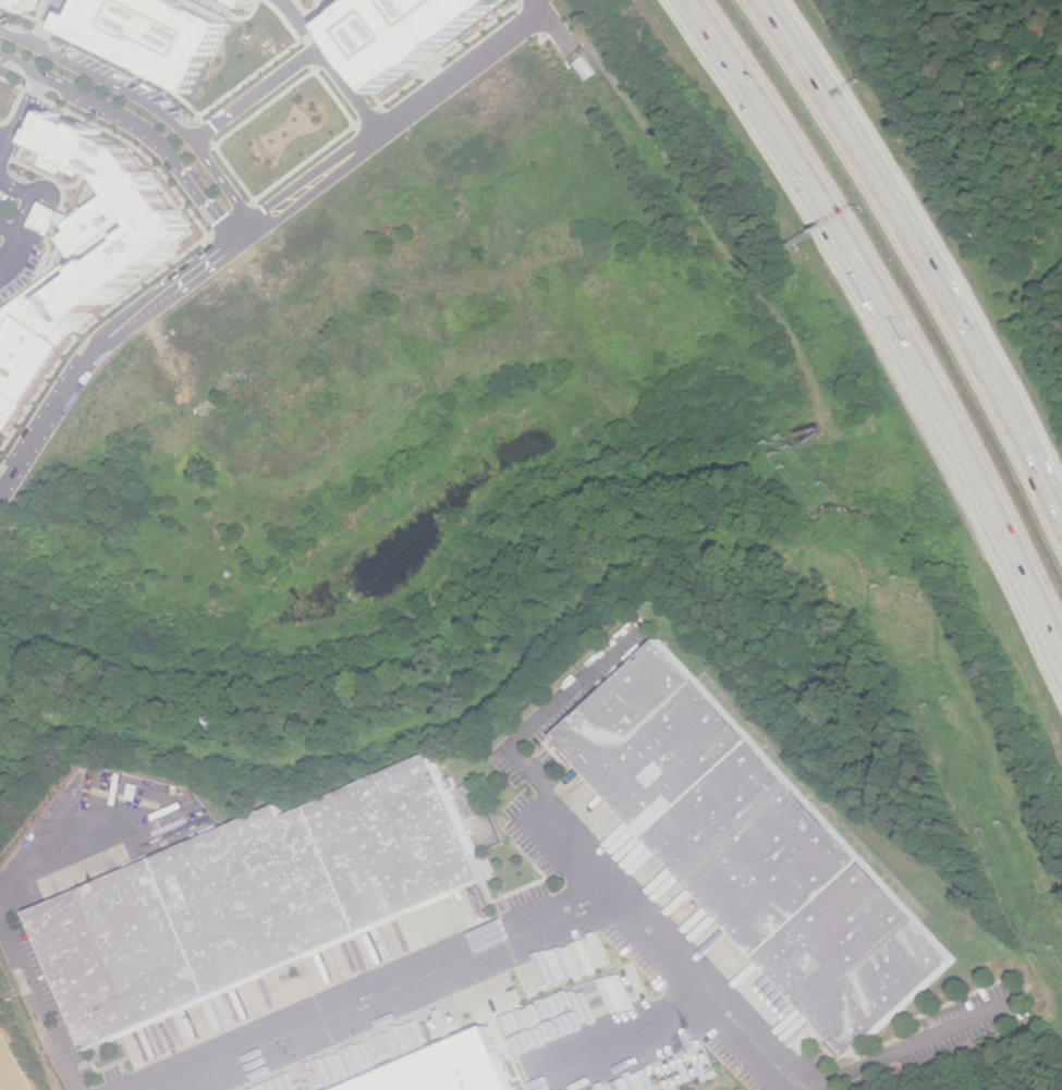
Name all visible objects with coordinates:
building: (261, 3)
parking lot: (261, 3)
building: (30, 4)
road: (768, 11)
road: (770, 11)
road: (317, 12)
road: (308, 16)
road: (45, 22)
road: (552, 23)
road: (302, 24)
building: (417, 33)
building: (158, 34)
road: (300, 62)
road: (313, 63)
building: (587, 68)
street lamp: (63, 71)
road: (413, 81)
road: (149, 102)
road: (93, 105)
street lamp: (146, 113)
road: (370, 118)
road: (20, 123)
road: (10, 127)
road: (205, 135)
street lamp: (204, 172)
road: (48, 186)
road: (261, 196)
road: (208, 203)
road: (24, 213)
road: (46, 218)
road: (234, 219)
road: (708, 220)
road: (8, 228)
road: (247, 232)
road: (23, 238)
building: (83, 258)
road: (928, 260)
road: (889, 320)
building: (764, 846)
building: (261, 897)
road: (1, 902)
road: (683, 939)
road: (396, 988)
building: (452, 1067)
road: (9, 1068)

